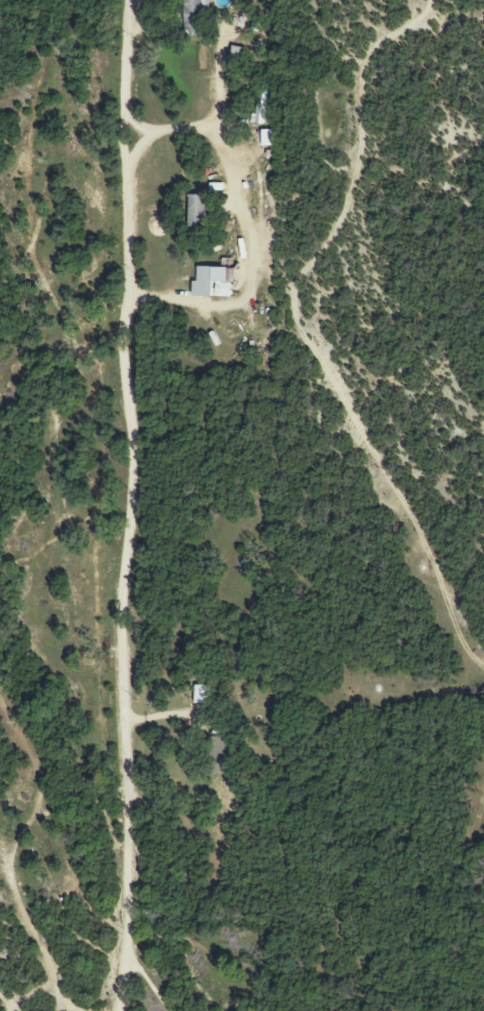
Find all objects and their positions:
building: (193, 17)
road: (217, 85)
building: (260, 111)
building: (265, 138)
road: (139, 150)
building: (196, 210)
road: (247, 220)
building: (213, 283)
road: (129, 505)
building: (200, 695)
building: (220, 759)

